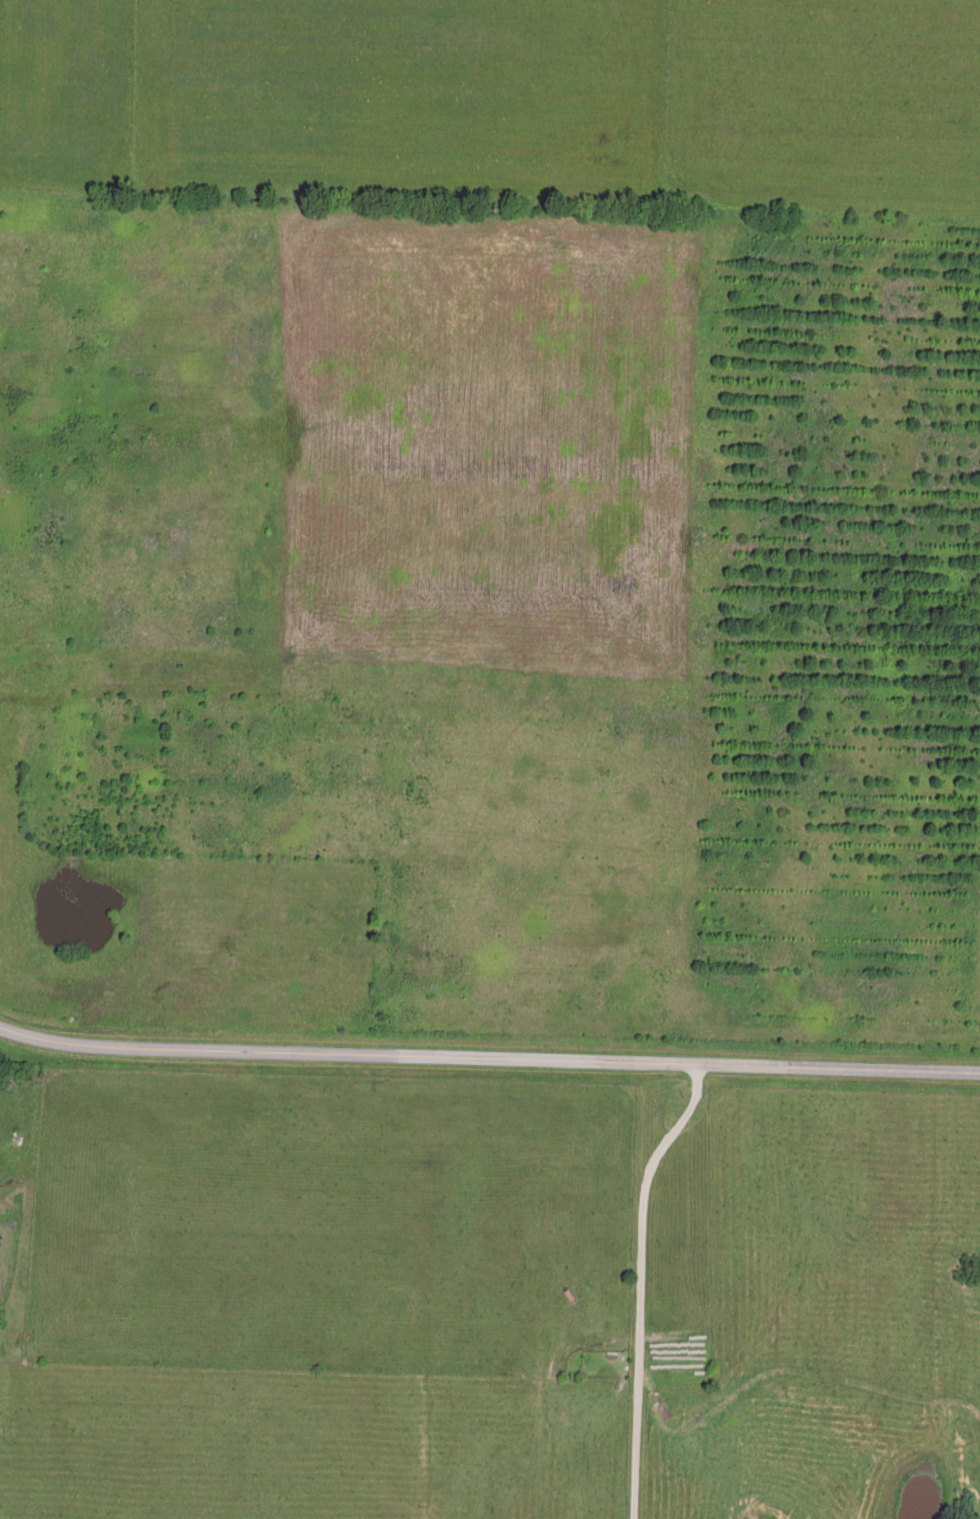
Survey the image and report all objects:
road: (488, 1061)
road: (639, 1284)

